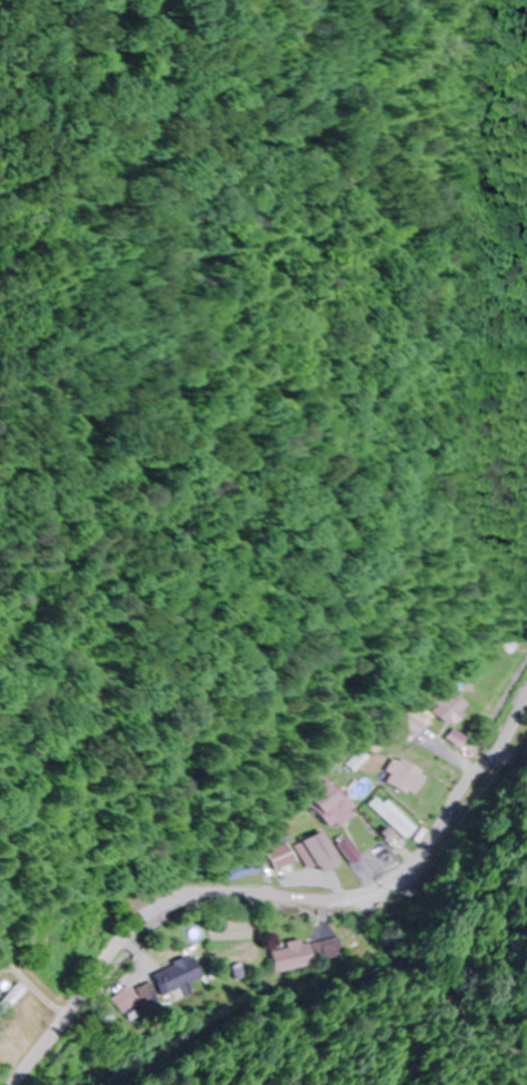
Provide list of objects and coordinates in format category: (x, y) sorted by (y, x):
building: (486, 673)
building: (453, 710)
building: (418, 724)
building: (407, 778)
building: (335, 803)
building: (395, 817)
building: (352, 851)
building: (320, 854)
building: (281, 858)
road: (296, 900)
building: (330, 949)
building: (291, 956)
building: (176, 977)
building: (125, 999)

